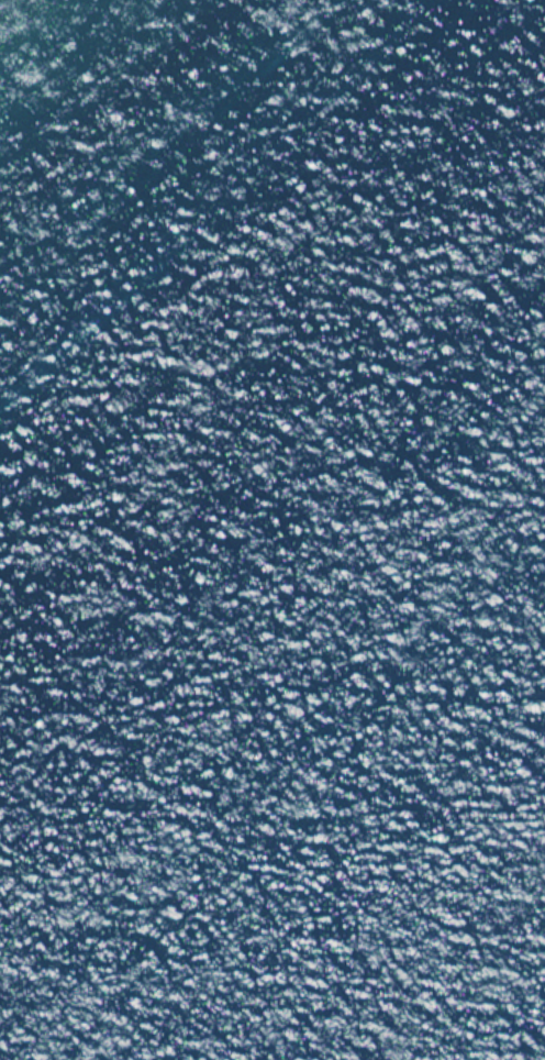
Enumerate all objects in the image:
river: (272, 594)

